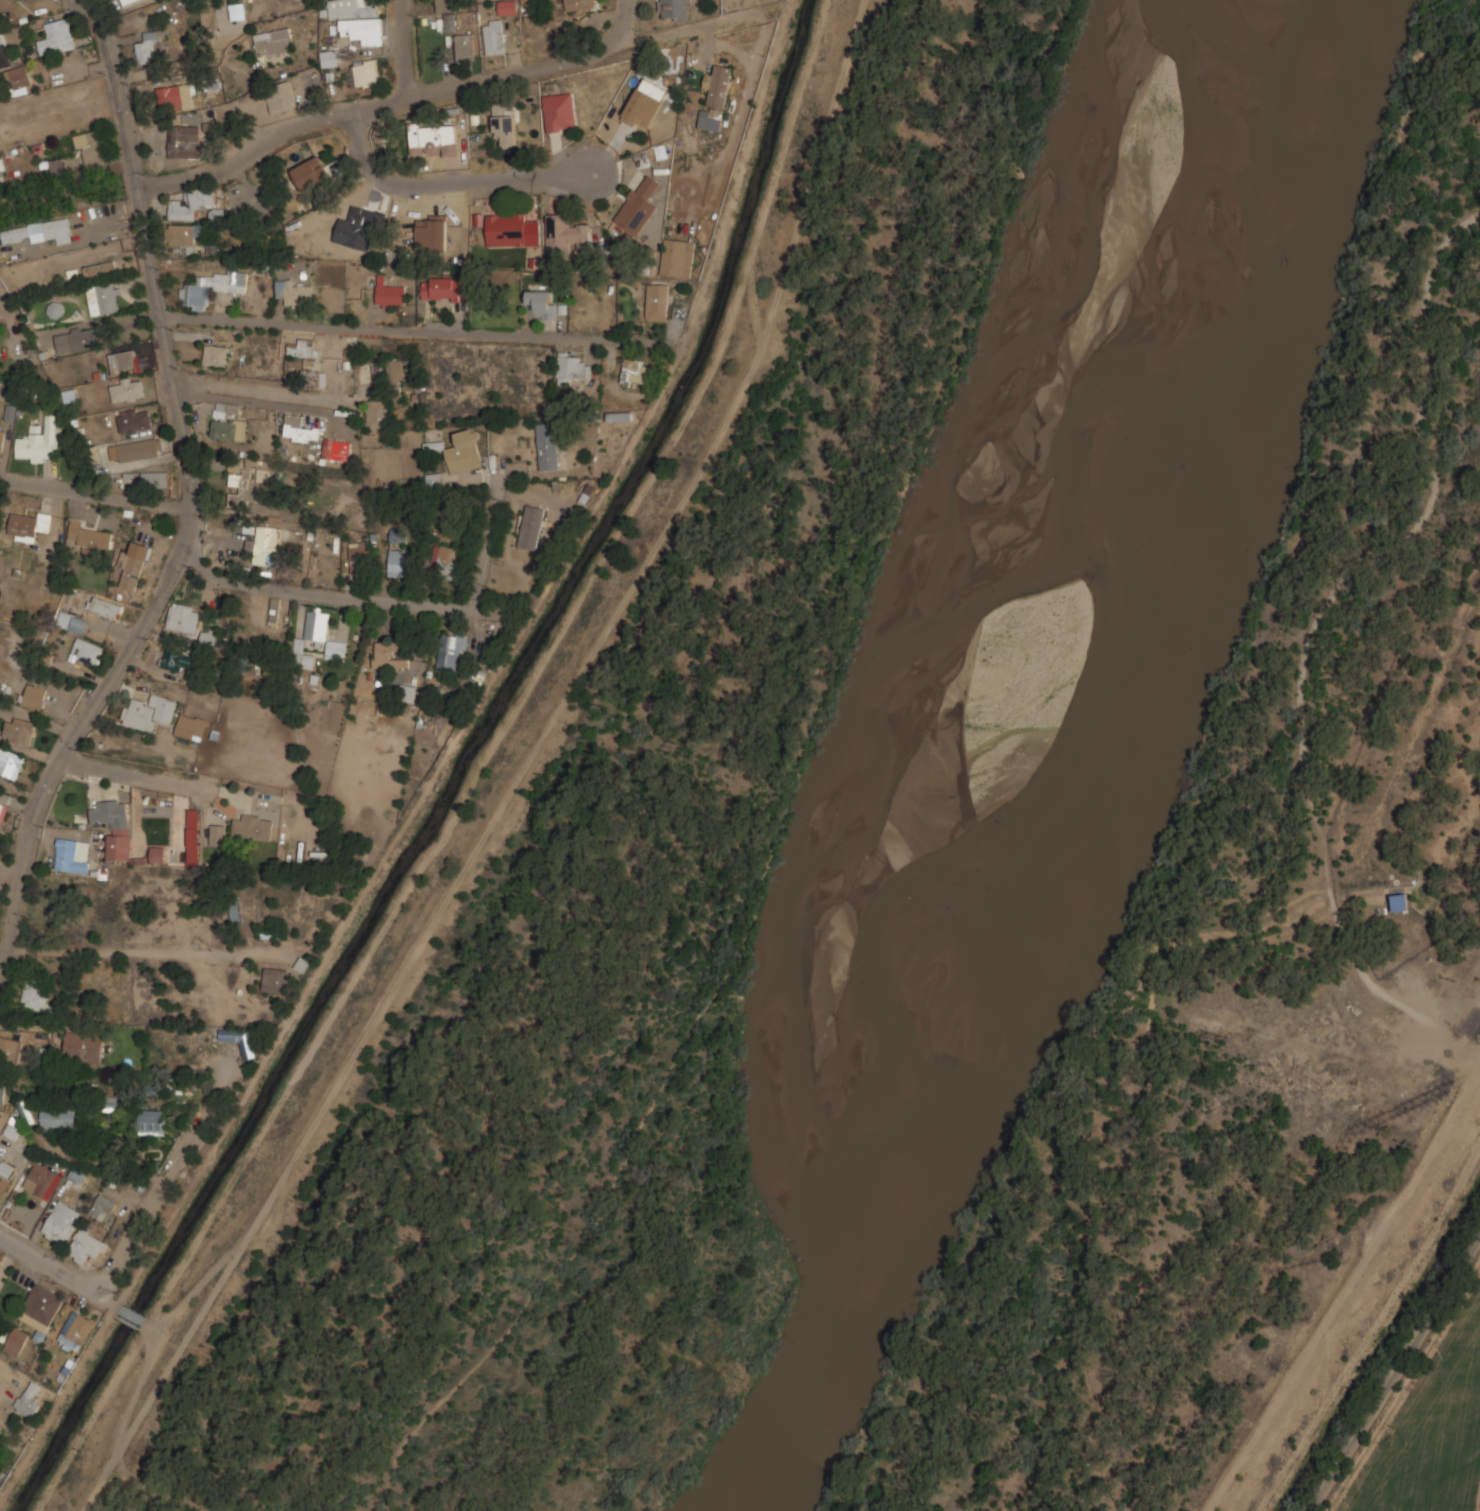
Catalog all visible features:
building: (127, 1)
building: (446, 4)
building: (579, 4)
building: (508, 7)
building: (675, 9)
building: (237, 11)
building: (357, 19)
building: (450, 23)
building: (494, 35)
building: (56, 36)
building: (274, 41)
building: (465, 46)
building: (147, 47)
road: (405, 49)
building: (4, 51)
building: (330, 57)
building: (363, 72)
building: (19, 79)
building: (76, 89)
building: (281, 96)
building: (177, 97)
building: (691, 97)
building: (715, 97)
road: (393, 101)
building: (645, 102)
building: (560, 111)
building: (505, 122)
building: (433, 136)
building: (178, 140)
building: (91, 143)
building: (58, 165)
building: (2, 168)
building: (311, 172)
road: (451, 183)
building: (193, 202)
building: (638, 204)
building: (218, 215)
building: (358, 228)
building: (58, 229)
building: (507, 229)
building: (432, 232)
building: (16, 233)
building: (184, 233)
building: (564, 234)
building: (678, 256)
building: (100, 267)
building: (212, 286)
building: (444, 287)
building: (294, 291)
building: (390, 291)
building: (104, 297)
building: (657, 301)
building: (544, 304)
building: (56, 308)
road: (4, 313)
road: (420, 330)
building: (76, 339)
building: (302, 347)
building: (215, 354)
building: (125, 359)
building: (114, 362)
building: (573, 367)
building: (636, 370)
building: (314, 378)
building: (396, 379)
building: (127, 390)
road: (257, 392)
building: (225, 409)
building: (9, 413)
building: (377, 414)
building: (621, 415)
building: (134, 419)
building: (229, 428)
building: (299, 428)
building: (2, 437)
building: (41, 440)
building: (548, 445)
building: (337, 448)
building: (136, 449)
building: (464, 451)
road: (274, 460)
building: (156, 479)
building: (435, 479)
building: (251, 481)
road: (95, 492)
road: (191, 499)
building: (28, 524)
building: (532, 526)
building: (90, 535)
building: (398, 535)
road: (487, 537)
building: (269, 544)
building: (360, 556)
building: (448, 560)
building: (400, 562)
building: (134, 563)
road: (317, 594)
building: (105, 606)
building: (275, 609)
building: (186, 618)
building: (73, 621)
building: (323, 631)
building: (209, 635)
road: (1309, 636)
building: (451, 649)
building: (87, 651)
building: (391, 654)
building: (302, 655)
building: (177, 659)
building: (408, 692)
building: (34, 695)
building: (150, 711)
building: (193, 726)
building: (19, 728)
building: (10, 762)
river: (987, 764)
road: (752, 794)
building: (2, 807)
building: (114, 825)
building: (252, 826)
building: (217, 834)
building: (193, 837)
building: (157, 853)
building: (319, 854)
building: (69, 855)
building: (1400, 901)
building: (234, 910)
road: (143, 951)
building: (302, 964)
building: (275, 979)
building: (36, 993)
building: (9, 1047)
building: (86, 1048)
building: (248, 1048)
building: (2, 1095)
building: (109, 1103)
building: (26, 1109)
building: (57, 1118)
building: (152, 1122)
building: (13, 1130)
road: (1104, 1141)
road: (103, 1165)
building: (5, 1175)
building: (42, 1179)
road: (155, 1201)
road: (1392, 1206)
building: (102, 1207)
building: (61, 1221)
building: (87, 1245)
road: (51, 1265)
road: (1016, 1269)
building: (41, 1307)
building: (74, 1332)
building: (16, 1340)
road: (1396, 1372)
building: (29, 1398)
crop: (1429, 1427)
road: (1254, 1431)

